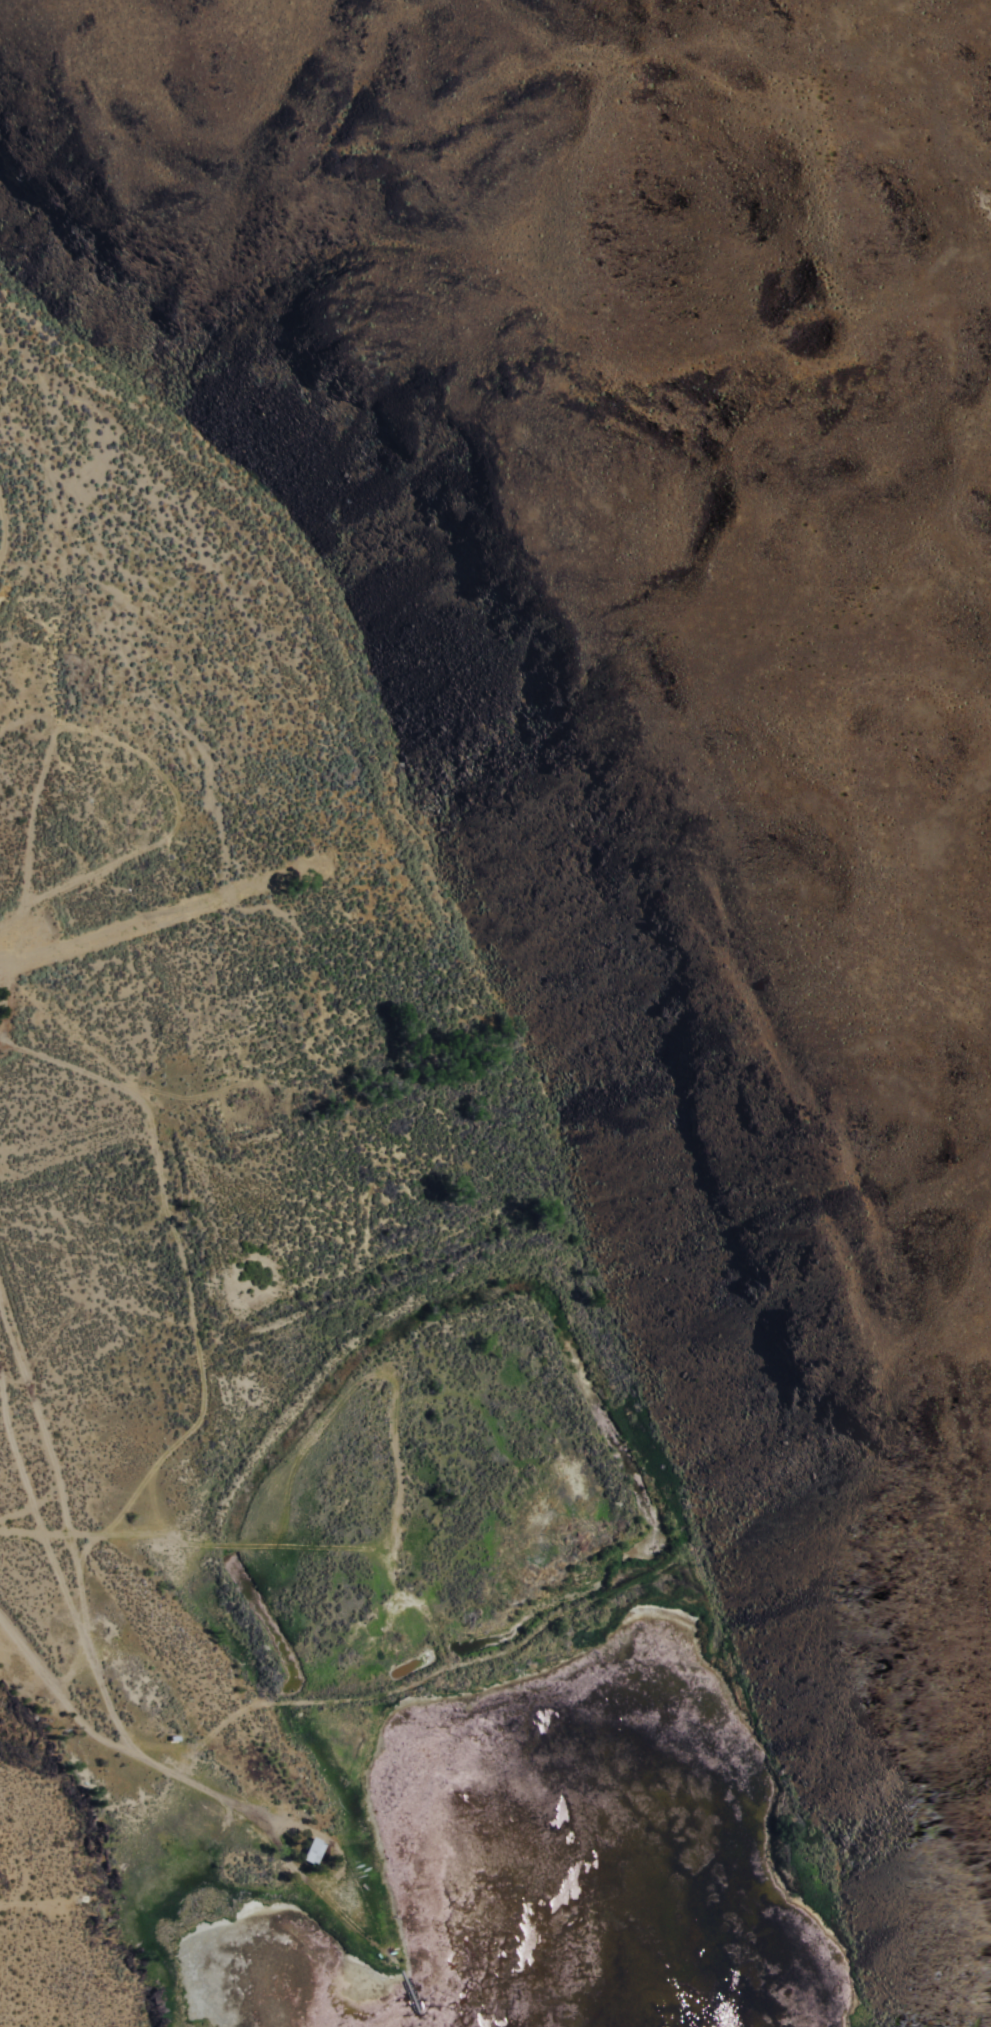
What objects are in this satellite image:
building: (315, 1851)

